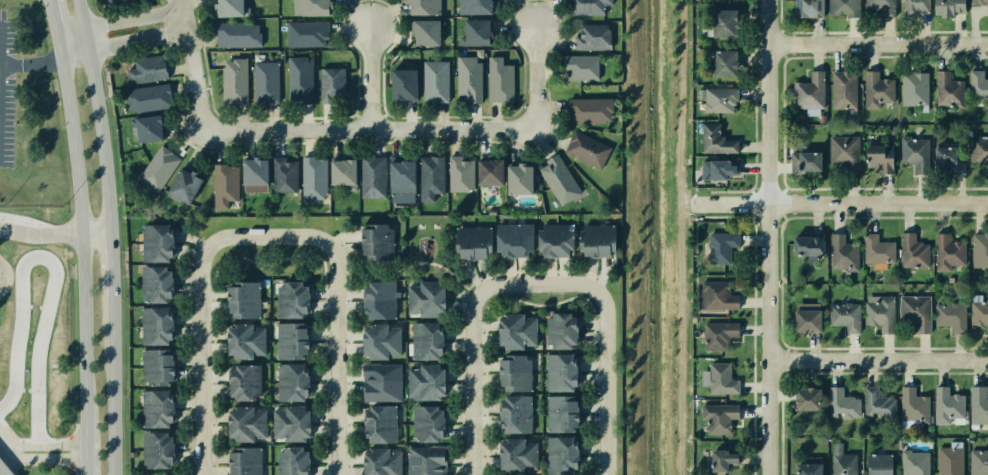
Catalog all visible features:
building: (113, 1)
building: (313, 5)
building: (422, 5)
building: (582, 5)
building: (476, 6)
building: (912, 6)
building: (944, 6)
building: (225, 7)
building: (806, 7)
building: (841, 7)
building: (876, 8)
building: (985, 9)
road: (118, 19)
building: (718, 20)
road: (53, 26)
building: (422, 30)
building: (307, 31)
building: (473, 31)
building: (237, 32)
building: (591, 34)
road: (122, 41)
road: (877, 45)
building: (720, 61)
road: (30, 63)
road: (194, 65)
building: (577, 67)
building: (141, 68)
road: (536, 73)
road: (370, 75)
building: (467, 77)
building: (233, 78)
building: (298, 78)
building: (497, 78)
building: (264, 80)
building: (433, 80)
building: (401, 81)
building: (331, 84)
building: (978, 84)
building: (912, 87)
building: (945, 88)
building: (840, 89)
building: (877, 89)
parking lot: (6, 90)
building: (808, 93)
building: (145, 96)
building: (720, 100)
building: (588, 108)
road: (97, 115)
building: (147, 127)
road: (373, 129)
building: (715, 139)
building: (911, 147)
building: (977, 148)
building: (585, 149)
building: (843, 151)
building: (878, 156)
building: (802, 157)
building: (938, 158)
building: (159, 168)
building: (487, 169)
building: (718, 169)
building: (341, 170)
building: (254, 171)
building: (458, 173)
building: (556, 174)
building: (519, 176)
building: (285, 177)
building: (371, 177)
building: (429, 177)
building: (313, 179)
building: (400, 179)
building: (225, 185)
building: (184, 186)
road: (842, 203)
road: (40, 232)
road: (95, 234)
road: (767, 237)
building: (552, 238)
building: (155, 240)
building: (511, 240)
building: (592, 240)
building: (376, 241)
building: (471, 242)
building: (719, 245)
road: (81, 248)
building: (808, 248)
building: (881, 252)
building: (981, 253)
building: (916, 254)
park: (417, 255)
building: (951, 255)
road: (347, 262)
building: (847, 262)
road: (111, 265)
road: (411, 265)
road: (52, 269)
road: (345, 271)
road: (10, 276)
road: (2, 277)
road: (347, 280)
building: (155, 282)
road: (468, 286)
road: (466, 290)
building: (719, 293)
building: (375, 297)
building: (426, 297)
building: (240, 298)
building: (289, 298)
building: (918, 315)
building: (885, 318)
building: (848, 319)
building: (982, 321)
building: (953, 322)
building: (153, 324)
building: (806, 325)
road: (203, 326)
road: (336, 326)
building: (514, 327)
building: (558, 327)
building: (720, 332)
building: (426, 338)
building: (290, 339)
building: (242, 340)
building: (380, 341)
road: (472, 349)
road: (605, 351)
road: (877, 362)
building: (155, 366)
building: (559, 369)
building: (510, 370)
building: (720, 377)
building: (240, 379)
building: (290, 380)
building: (422, 380)
building: (378, 381)
road: (112, 387)
building: (807, 402)
building: (843, 404)
building: (153, 405)
building: (880, 406)
building: (954, 408)
building: (979, 408)
building: (917, 409)
building: (513, 412)
building: (559, 412)
building: (719, 416)
building: (287, 420)
building: (242, 422)
building: (424, 422)
building: (377, 423)
road: (38, 439)
road: (3, 441)
road: (45, 447)
building: (152, 449)
road: (73, 451)
building: (514, 451)
building: (560, 453)
building: (722, 457)
building: (426, 459)
road: (41, 460)
road: (85, 460)
building: (379, 460)
building: (240, 461)
building: (290, 461)
building: (844, 462)
building: (953, 463)
building: (979, 463)
road: (38, 464)
building: (917, 464)
building: (882, 465)
building: (812, 467)
building: (4, 469)
road: (12, 469)

